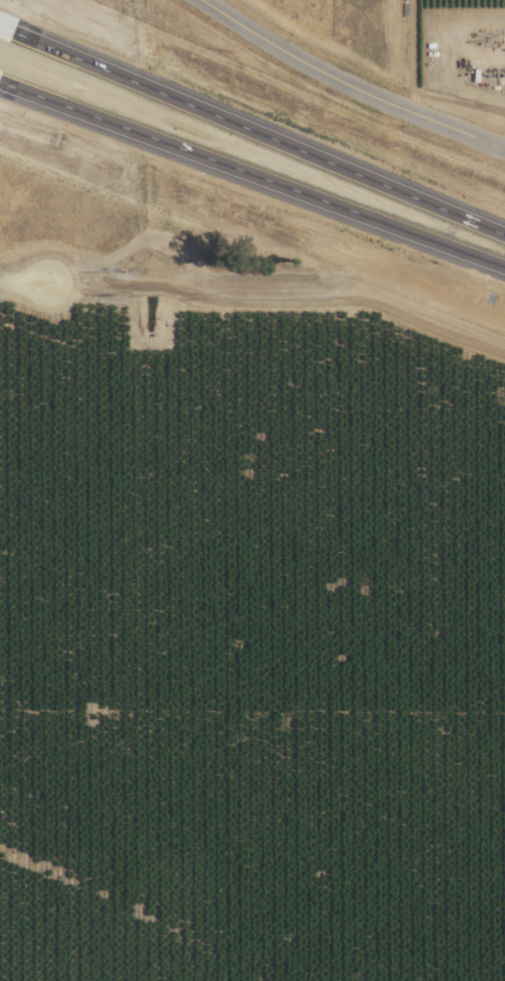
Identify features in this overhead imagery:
road: (7, 29)
road: (345, 87)
road: (260, 133)
road: (252, 178)
road: (24, 286)

